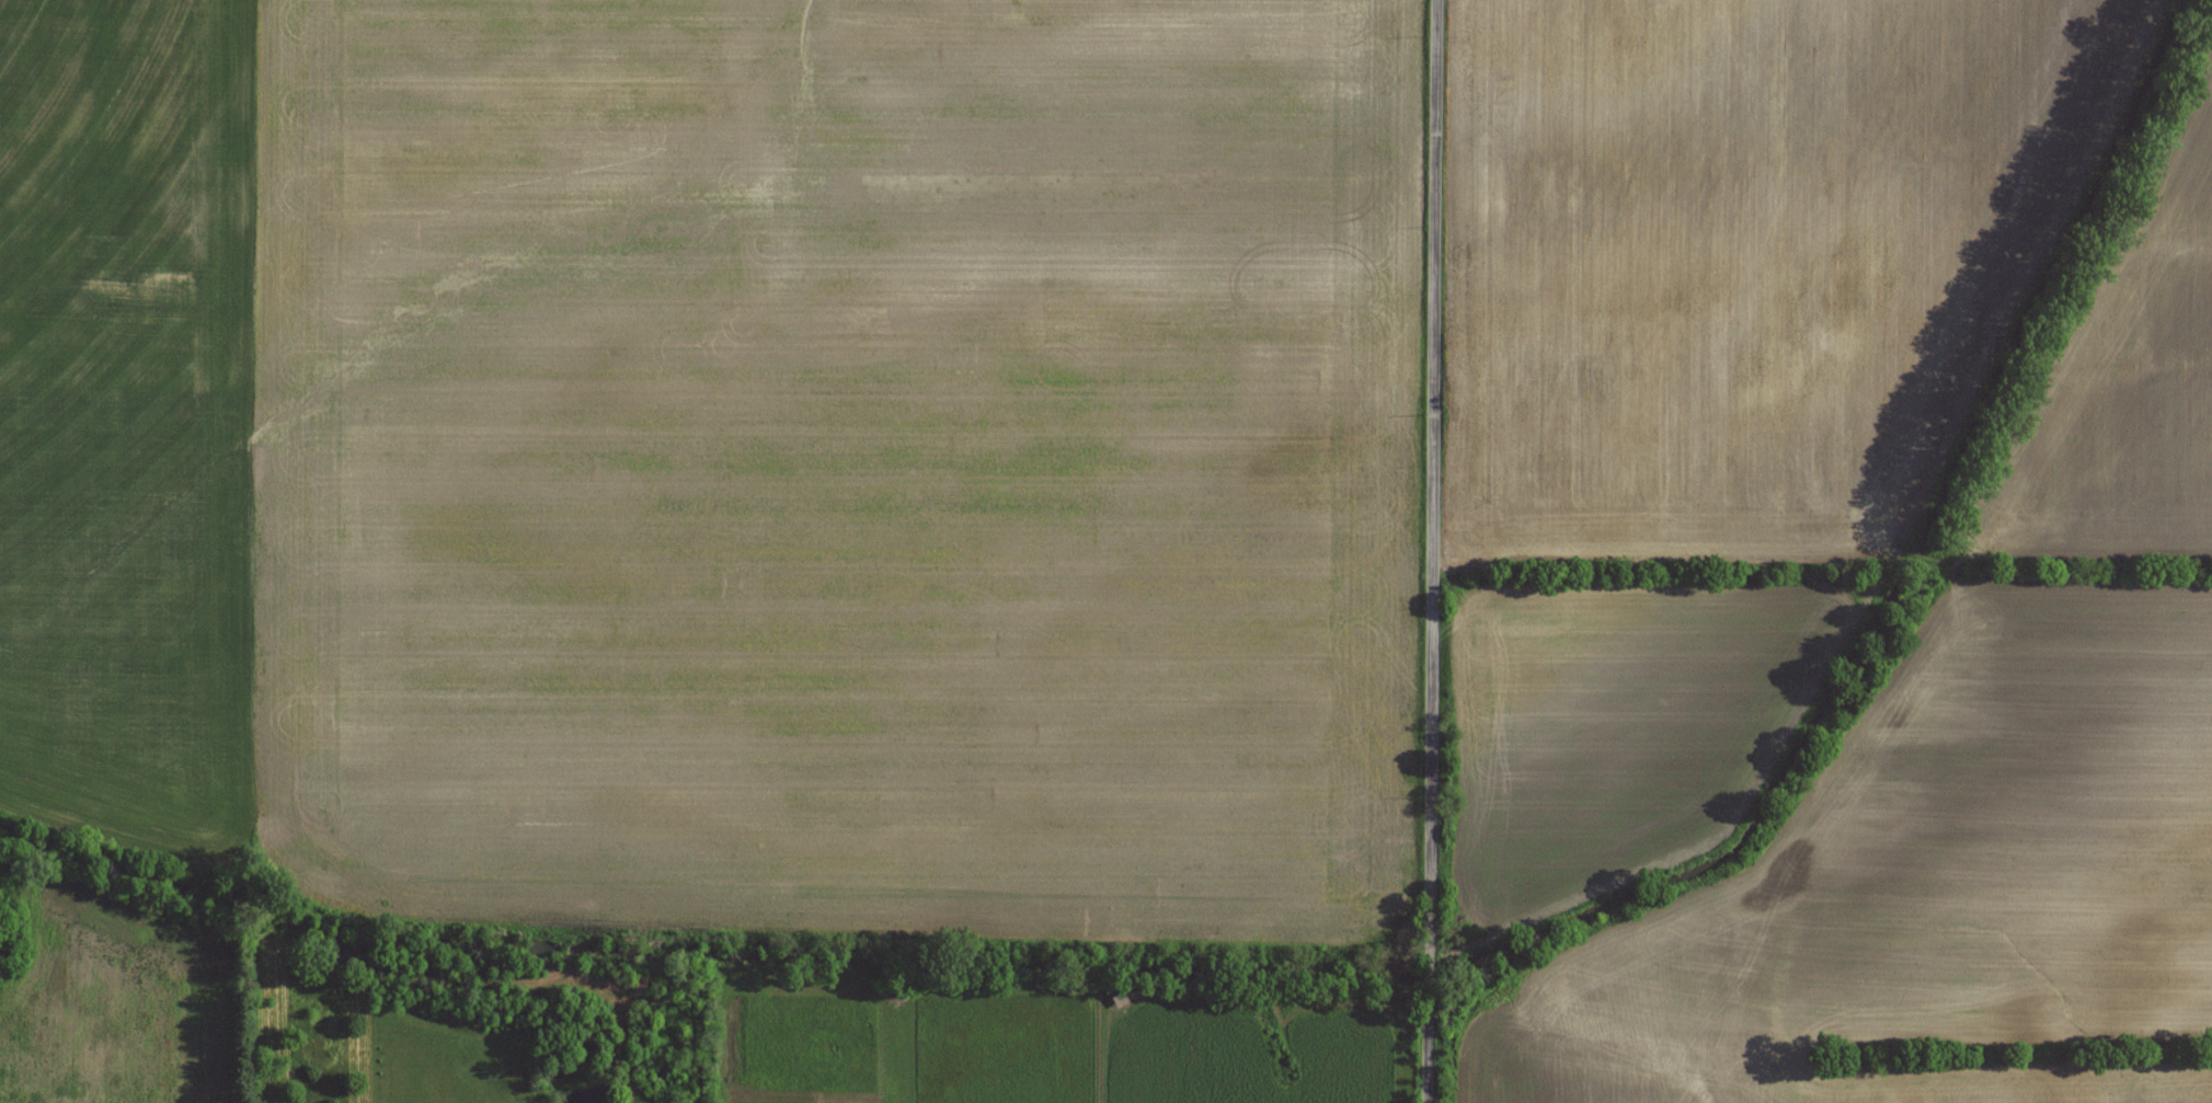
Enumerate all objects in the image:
road: (1433, 551)
building: (639, 983)

